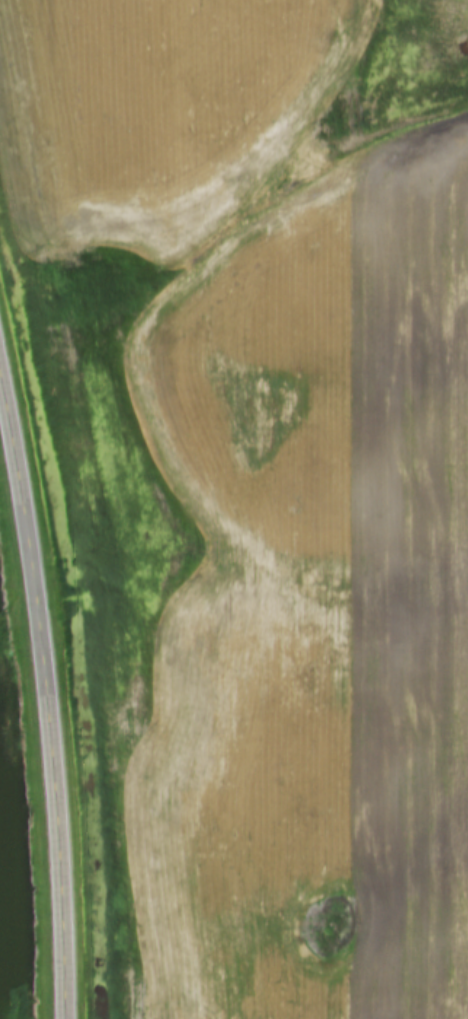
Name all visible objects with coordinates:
road: (51, 680)

